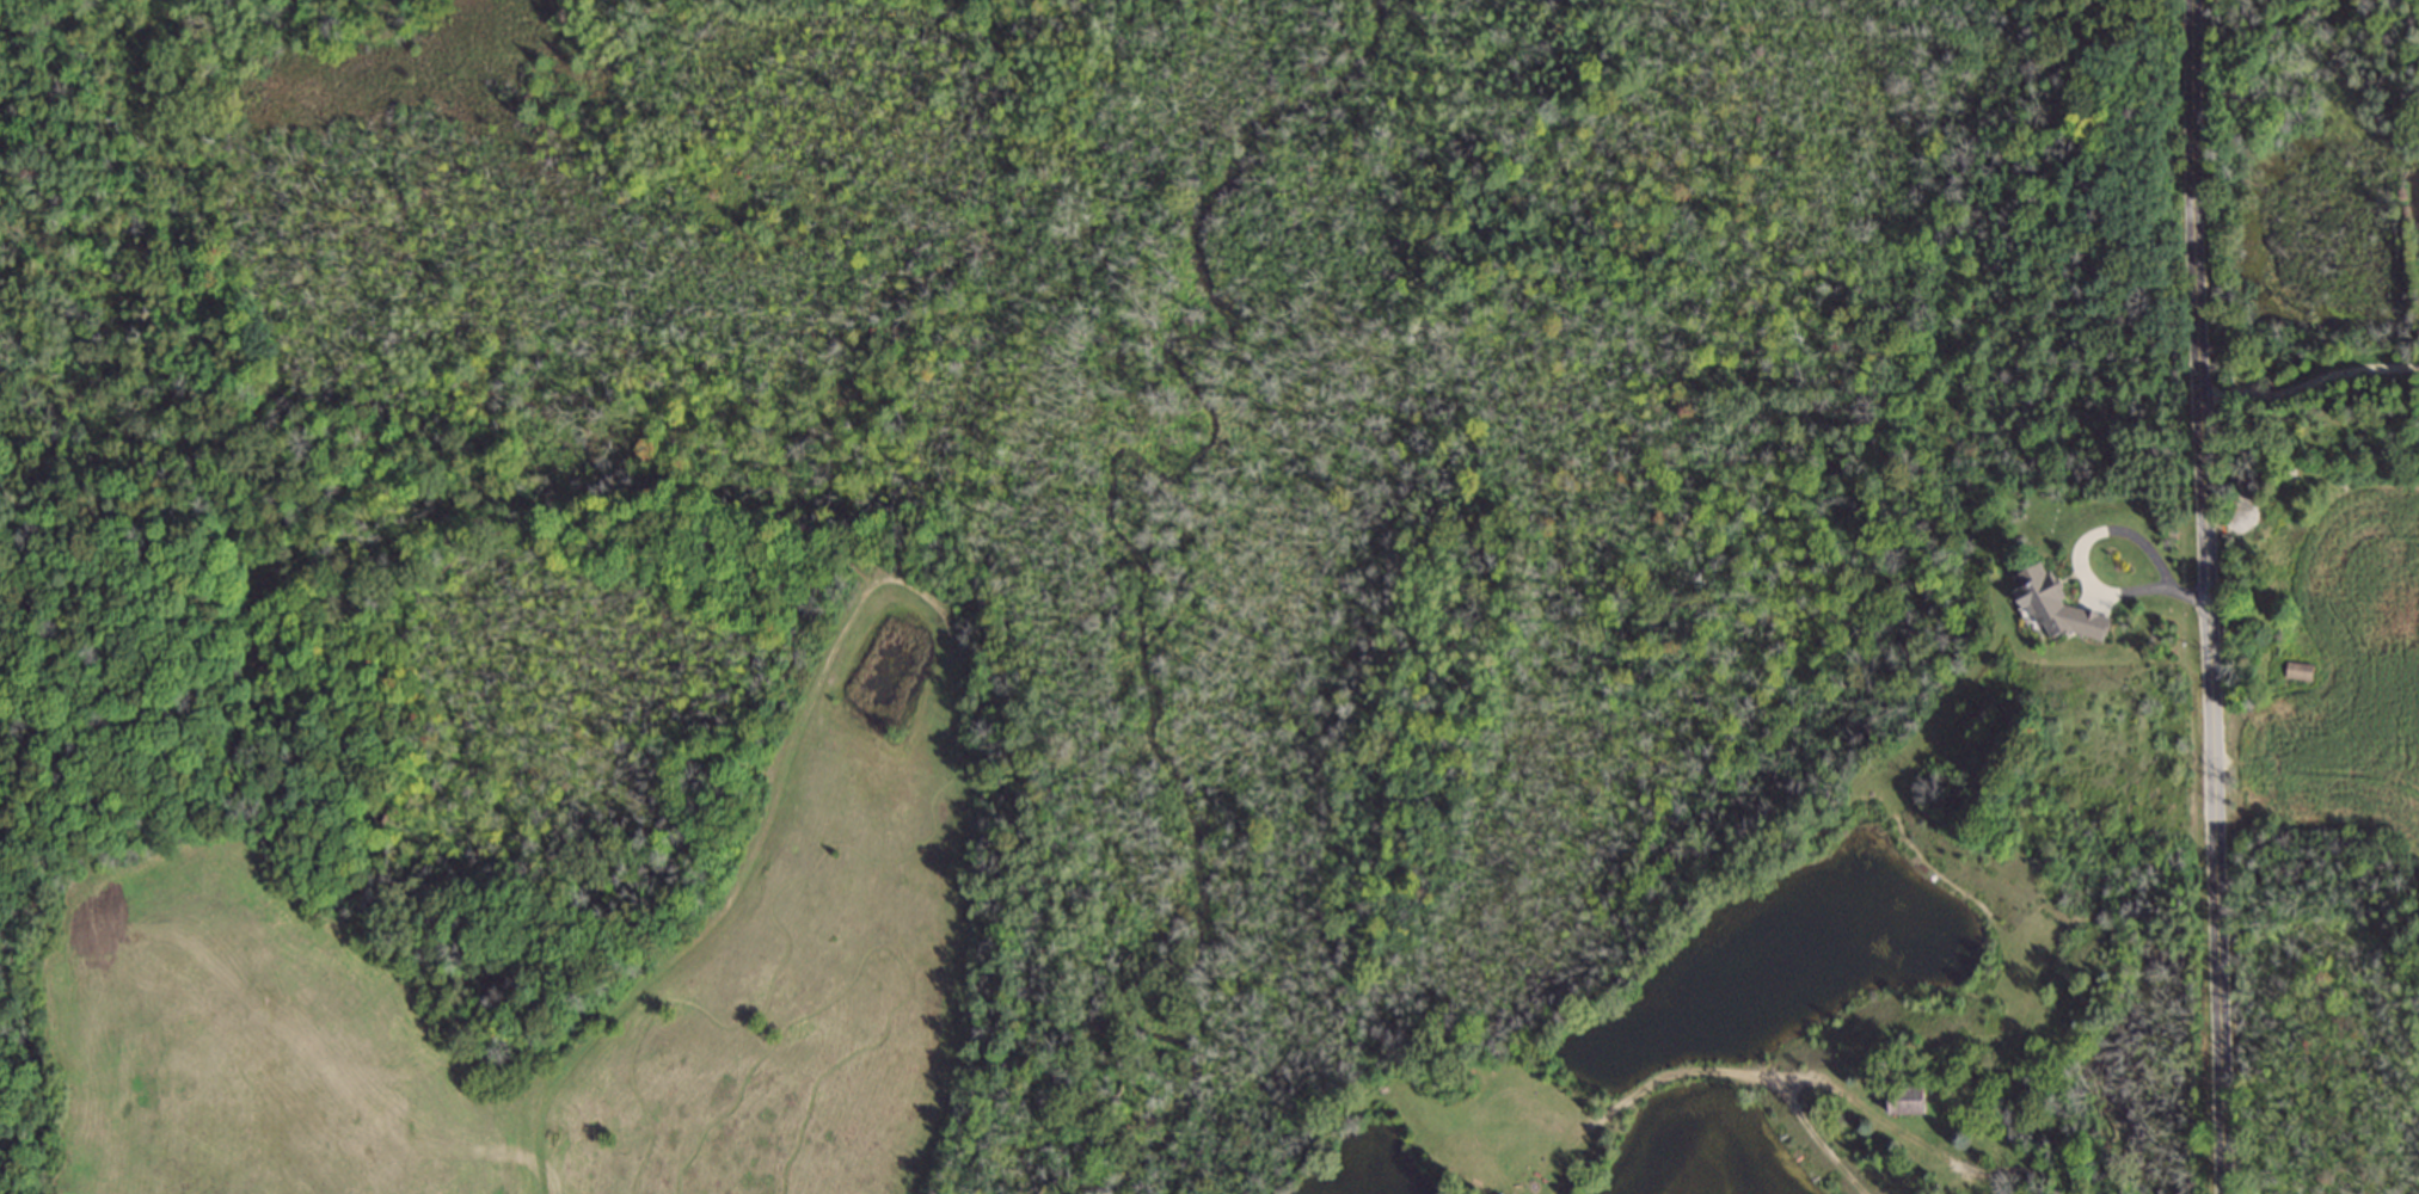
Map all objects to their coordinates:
road: (2310, 384)
building: (2267, 522)
road: (2094, 534)
road: (2210, 596)
building: (2059, 607)
building: (2297, 673)
building: (1914, 1103)
building: (2019, 1132)
road: (2015, 1173)

